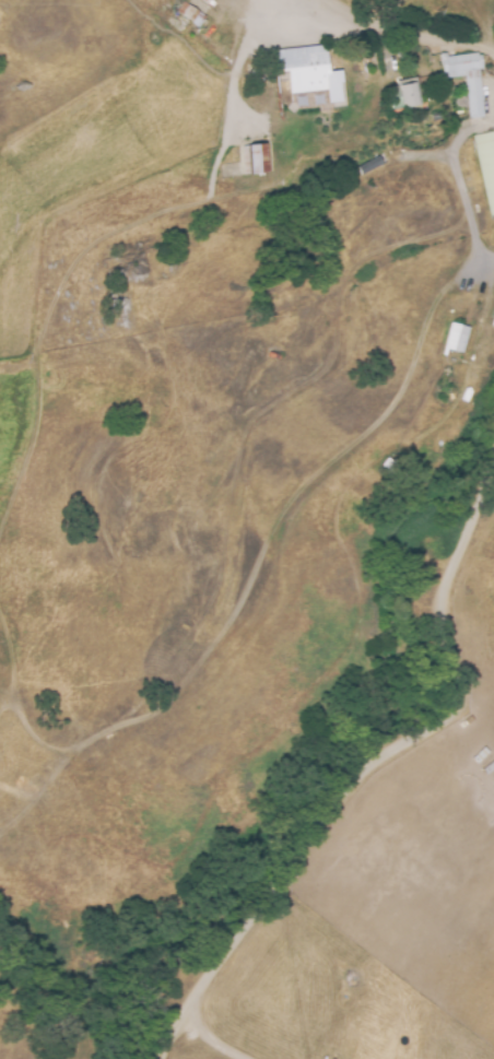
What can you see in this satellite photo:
road: (421, 30)
building: (302, 57)
building: (340, 72)
building: (467, 78)
building: (405, 93)
road: (449, 146)
building: (260, 158)
building: (493, 323)
building: (457, 338)
road: (373, 757)
road: (214, 1040)

